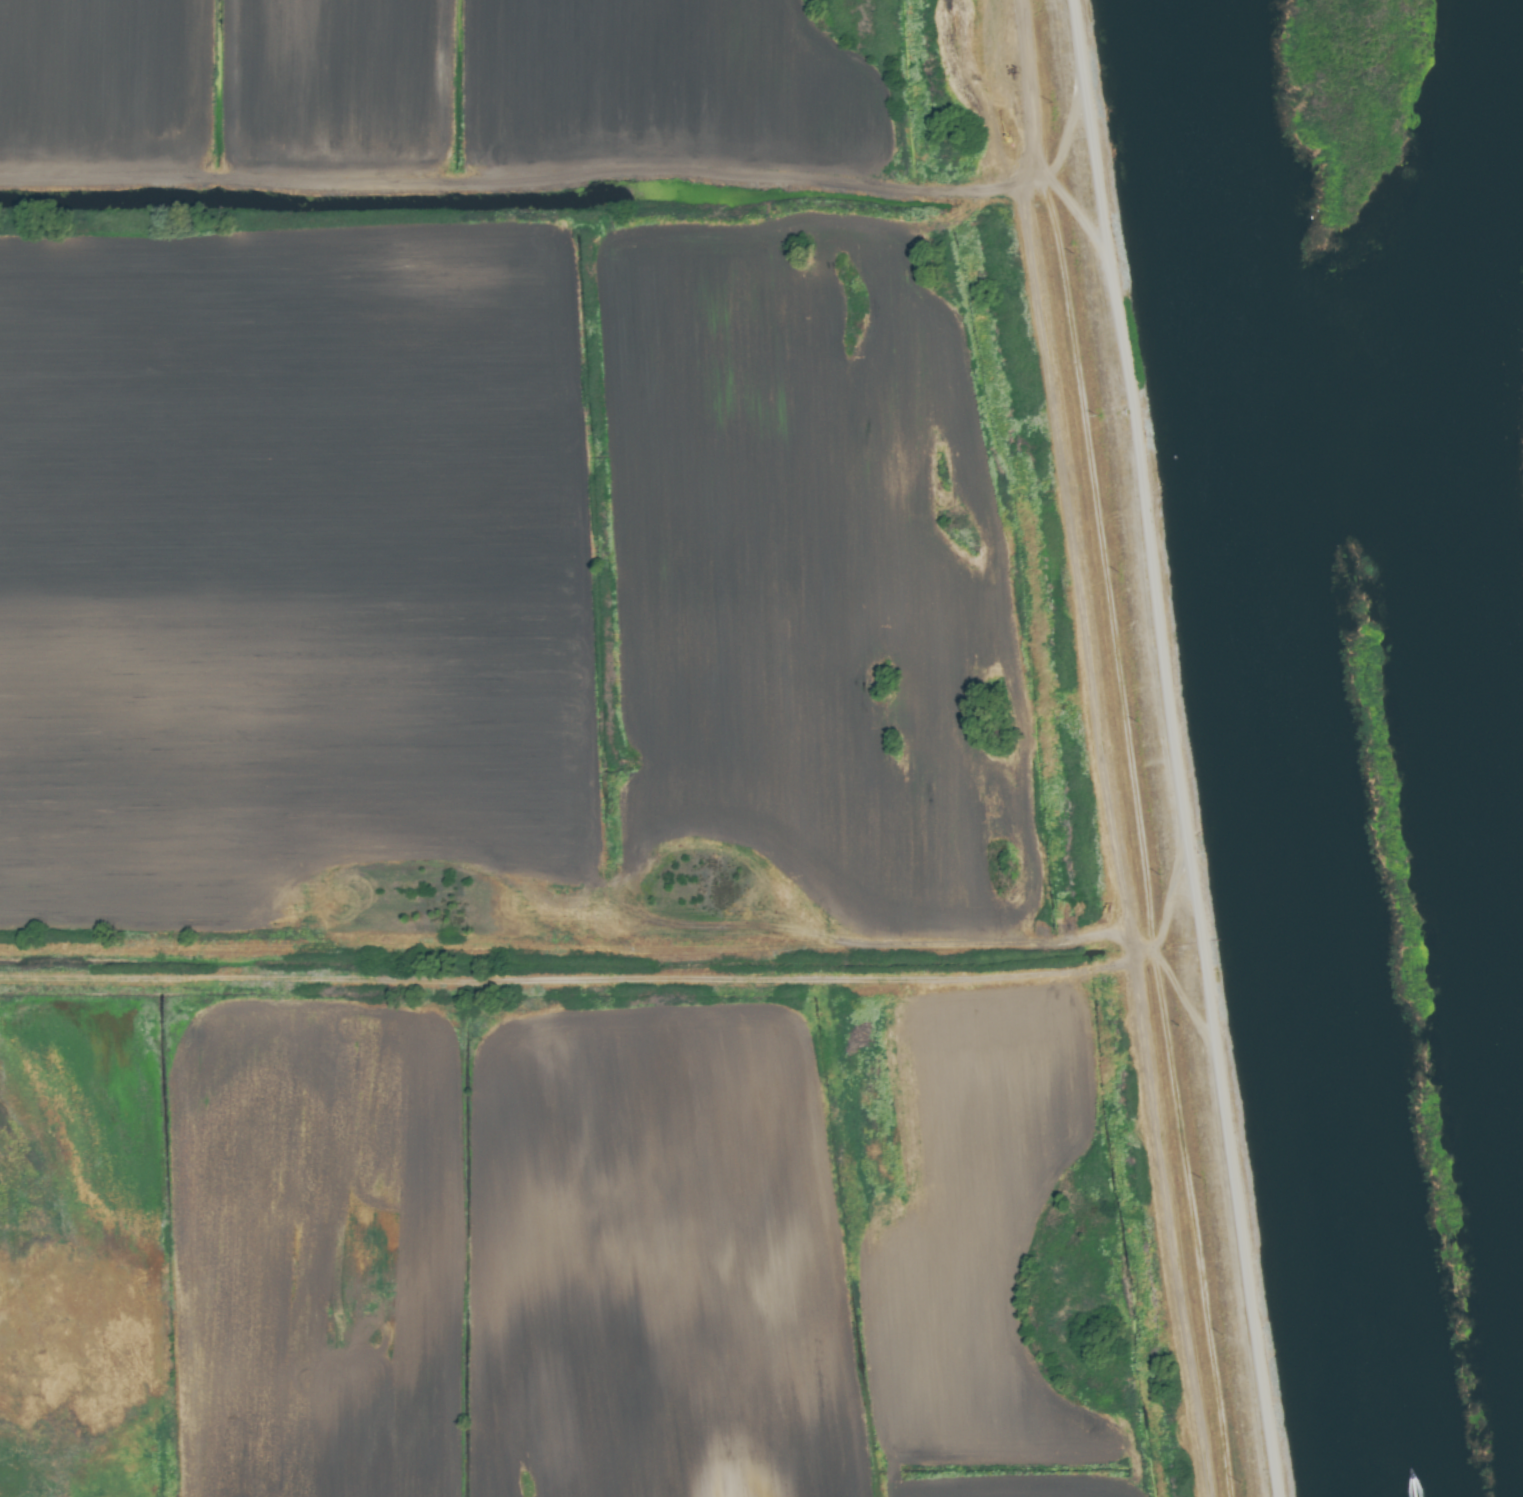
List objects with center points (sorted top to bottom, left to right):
road: (1016, 139)
road: (1169, 748)
crop: (591, 767)

